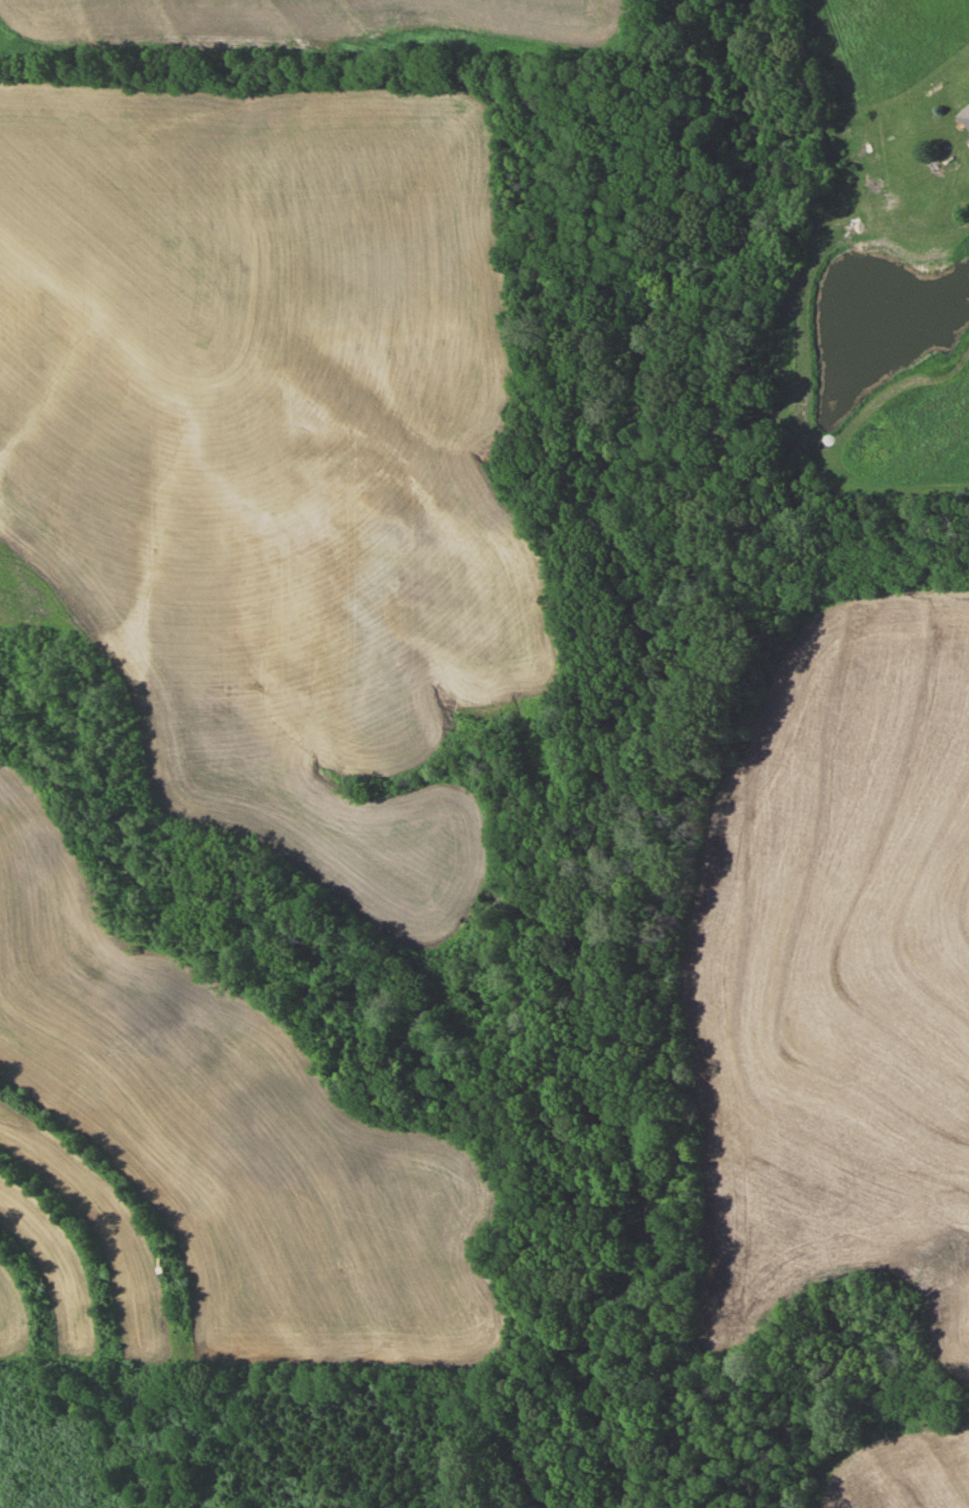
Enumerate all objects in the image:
building: (965, 114)

